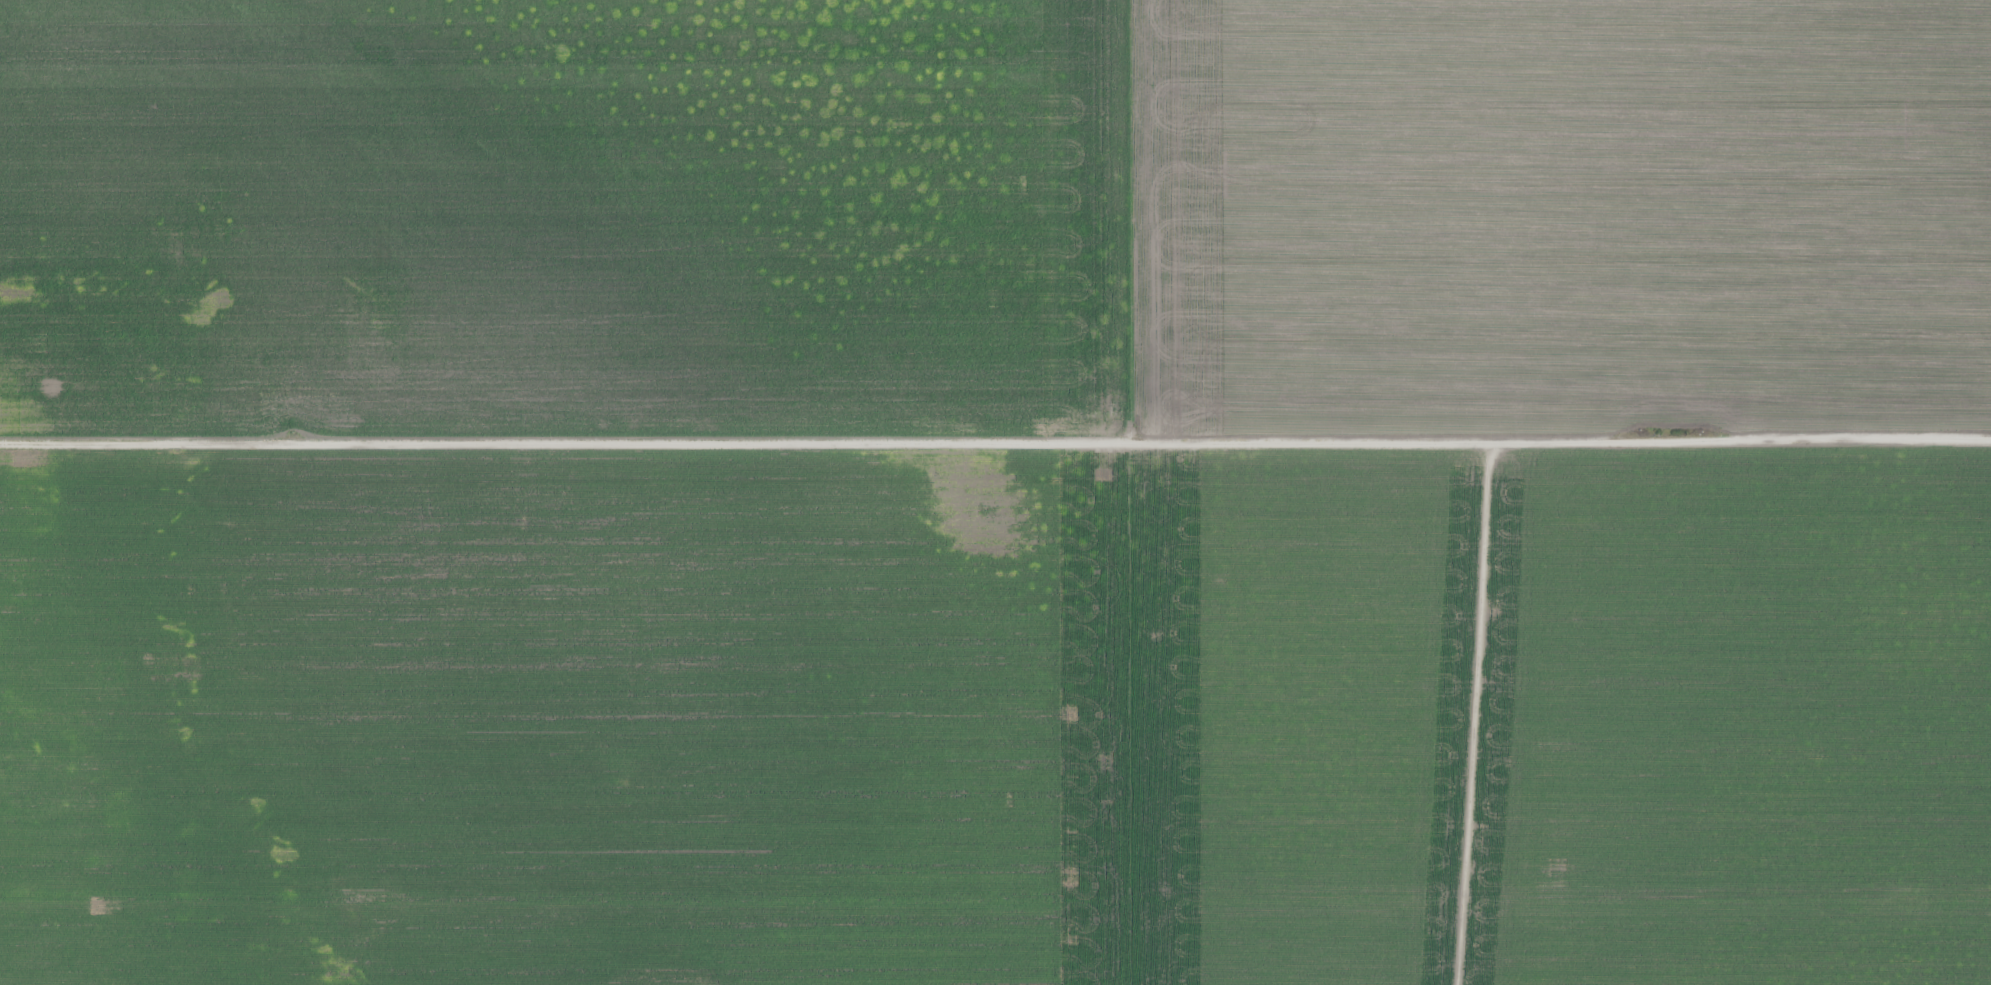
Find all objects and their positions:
road: (995, 443)

